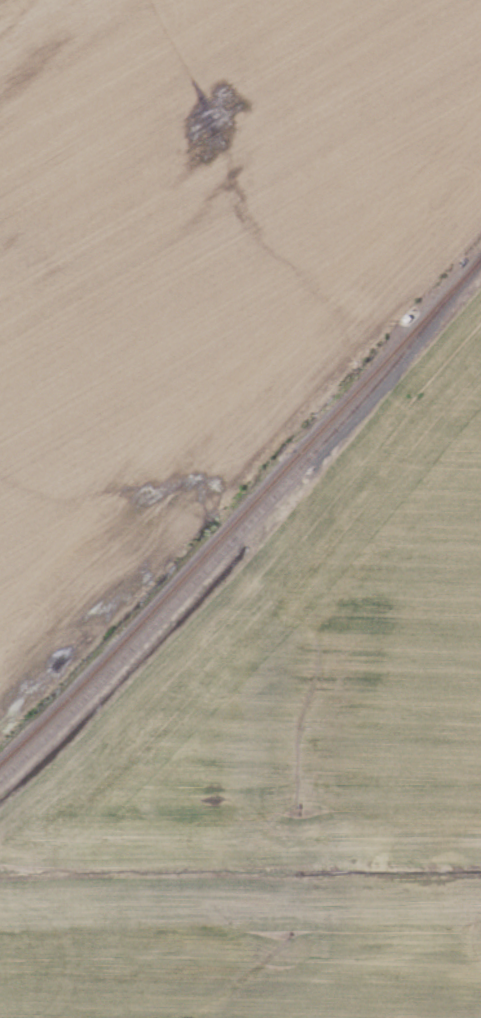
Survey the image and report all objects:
crop: (197, 267)
railway: (241, 510)
crop: (285, 762)

